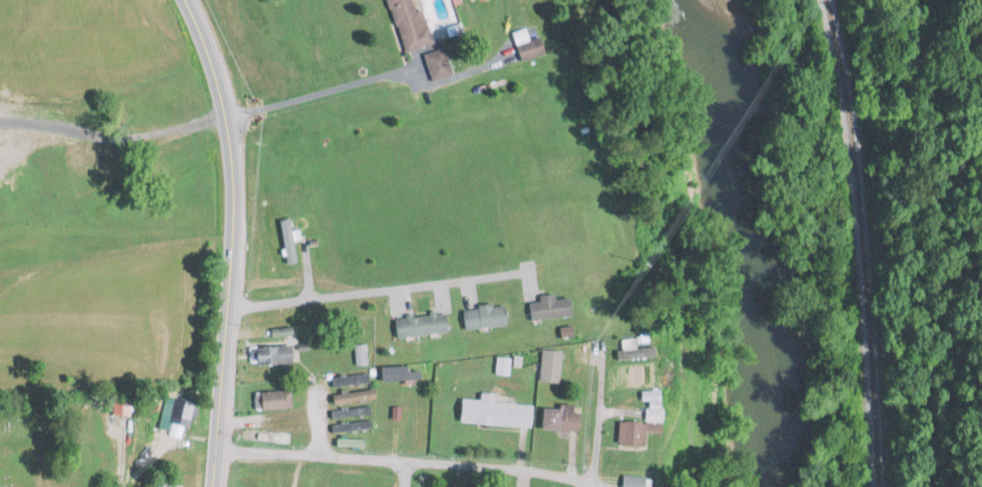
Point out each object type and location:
building: (409, 25)
building: (526, 45)
building: (436, 64)
road: (232, 240)
river: (745, 240)
building: (287, 241)
railway: (862, 241)
road: (378, 290)
building: (548, 307)
building: (483, 316)
building: (420, 324)
building: (281, 331)
building: (632, 350)
building: (270, 354)
building: (397, 372)
building: (349, 379)
building: (352, 396)
building: (271, 400)
building: (350, 412)
building: (491, 412)
road: (597, 416)
building: (559, 419)
building: (350, 426)
building: (630, 434)
road: (120, 450)
road: (404, 459)
road: (403, 473)
building: (266, 480)
building: (632, 480)
road: (592, 482)
building: (358, 483)

